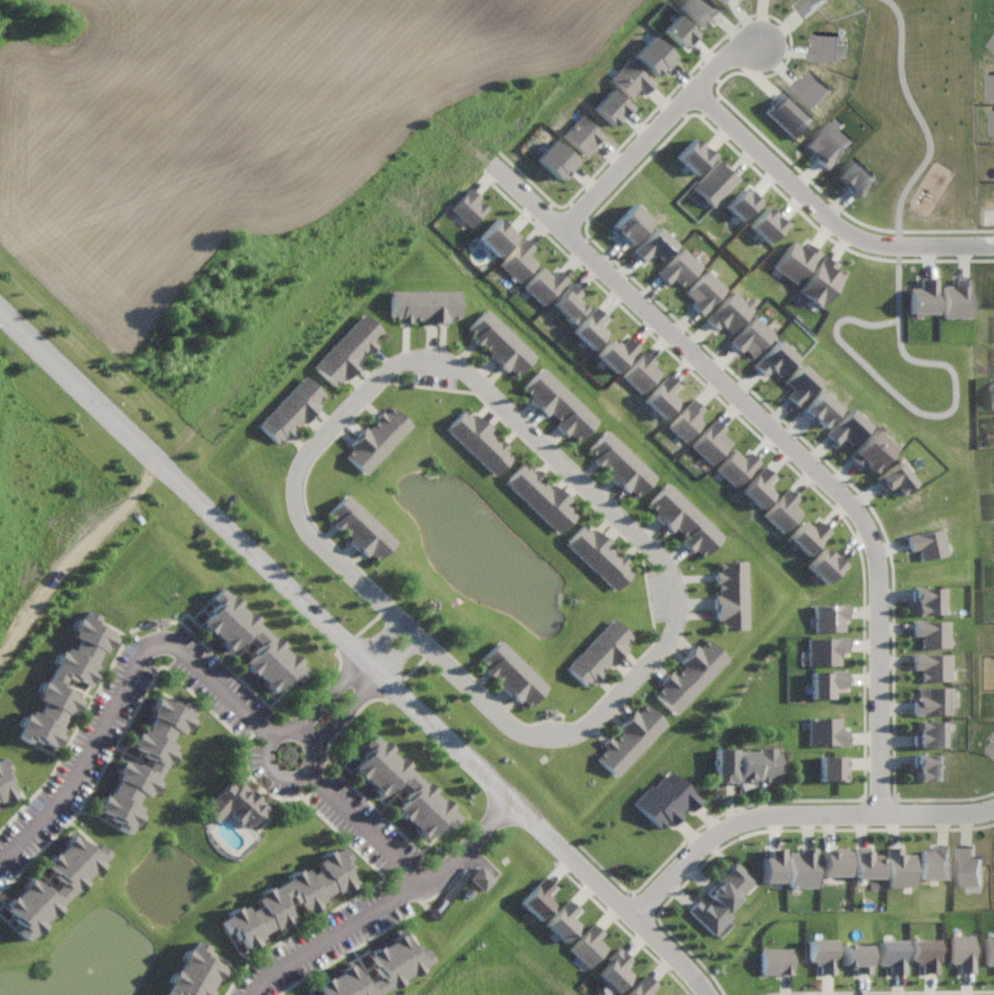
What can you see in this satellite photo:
building: (726, 0)
building: (809, 6)
building: (700, 10)
building: (681, 30)
building: (992, 42)
building: (992, 45)
building: (828, 47)
building: (654, 55)
building: (631, 78)
building: (991, 85)
building: (812, 87)
building: (612, 106)
building: (993, 109)
building: (789, 113)
road: (921, 121)
road: (662, 128)
building: (582, 134)
building: (831, 142)
building: (694, 157)
building: (555, 160)
building: (856, 177)
building: (715, 182)
building: (744, 202)
building: (469, 206)
road: (828, 208)
building: (630, 224)
building: (768, 224)
building: (497, 237)
building: (653, 246)
building: (519, 260)
building: (797, 261)
building: (679, 267)
building: (822, 281)
building: (544, 284)
building: (704, 291)
building: (923, 298)
building: (958, 299)
building: (570, 304)
building: (426, 306)
building: (729, 310)
building: (592, 327)
building: (750, 337)
building: (500, 342)
building: (349, 349)
building: (618, 351)
building: (775, 359)
building: (643, 373)
building: (800, 383)
building: (664, 396)
building: (559, 404)
building: (819, 408)
building: (292, 409)
road: (944, 413)
building: (688, 420)
building: (846, 426)
building: (378, 438)
building: (480, 439)
building: (712, 440)
road: (794, 442)
building: (871, 449)
building: (621, 462)
building: (737, 465)
road: (301, 478)
building: (894, 478)
building: (762, 488)
building: (542, 496)
building: (783, 510)
building: (684, 518)
building: (361, 526)
fountain: (456, 531)
building: (807, 536)
building: (925, 544)
building: (600, 555)
building: (825, 565)
building: (732, 594)
building: (928, 599)
road: (681, 609)
building: (831, 618)
building: (932, 633)
road: (385, 634)
building: (251, 641)
road: (360, 649)
building: (826, 650)
building: (598, 652)
road: (406, 654)
building: (933, 666)
building: (512, 673)
building: (690, 675)
building: (57, 679)
building: (828, 683)
road: (126, 689)
road: (331, 693)
building: (936, 701)
road: (349, 710)
building: (827, 732)
building: (933, 734)
building: (630, 738)
building: (991, 747)
building: (747, 765)
building: (131, 766)
building: (928, 766)
building: (832, 768)
road: (288, 780)
building: (5, 782)
building: (403, 786)
building: (666, 800)
building: (234, 803)
road: (799, 815)
road: (473, 845)
building: (835, 861)
building: (868, 863)
building: (936, 863)
building: (773, 867)
building: (901, 867)
building: (968, 867)
building: (803, 868)
building: (482, 879)
building: (72, 885)
road: (403, 893)
building: (540, 898)
building: (272, 899)
building: (724, 899)
building: (564, 920)
building: (588, 945)
building: (990, 950)
building: (964, 952)
building: (823, 953)
building: (926, 953)
building: (892, 954)
building: (857, 956)
building: (776, 960)
fountain: (87, 964)
building: (378, 969)
building: (616, 971)
building: (197, 973)
building: (642, 987)

